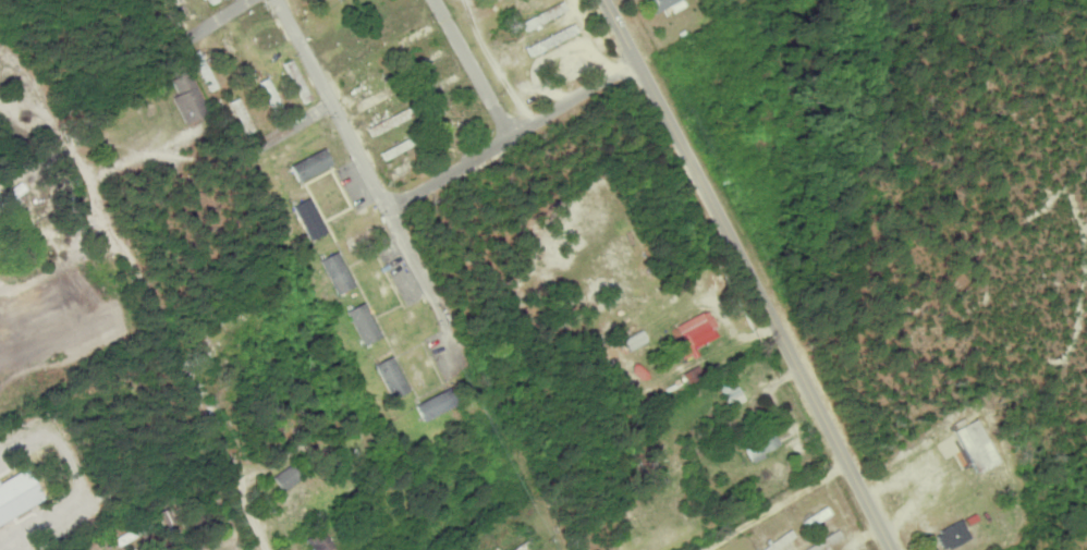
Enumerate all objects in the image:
building: (210, 0)
building: (306, 2)
building: (660, 3)
building: (183, 8)
building: (543, 15)
building: (415, 35)
building: (552, 38)
building: (433, 57)
building: (204, 70)
road: (469, 70)
building: (358, 75)
building: (297, 81)
building: (443, 83)
building: (270, 93)
building: (187, 98)
building: (374, 98)
building: (242, 114)
building: (388, 122)
road: (514, 134)
building: (394, 148)
building: (310, 164)
building: (308, 218)
building: (337, 272)
road: (423, 273)
road: (752, 274)
building: (363, 323)
building: (695, 332)
building: (634, 340)
building: (391, 377)
building: (731, 391)
building: (435, 404)
road: (213, 438)
building: (761, 444)
building: (976, 445)
building: (286, 476)
road: (774, 504)
building: (816, 516)
building: (952, 535)
building: (779, 540)
building: (320, 541)
building: (823, 542)

